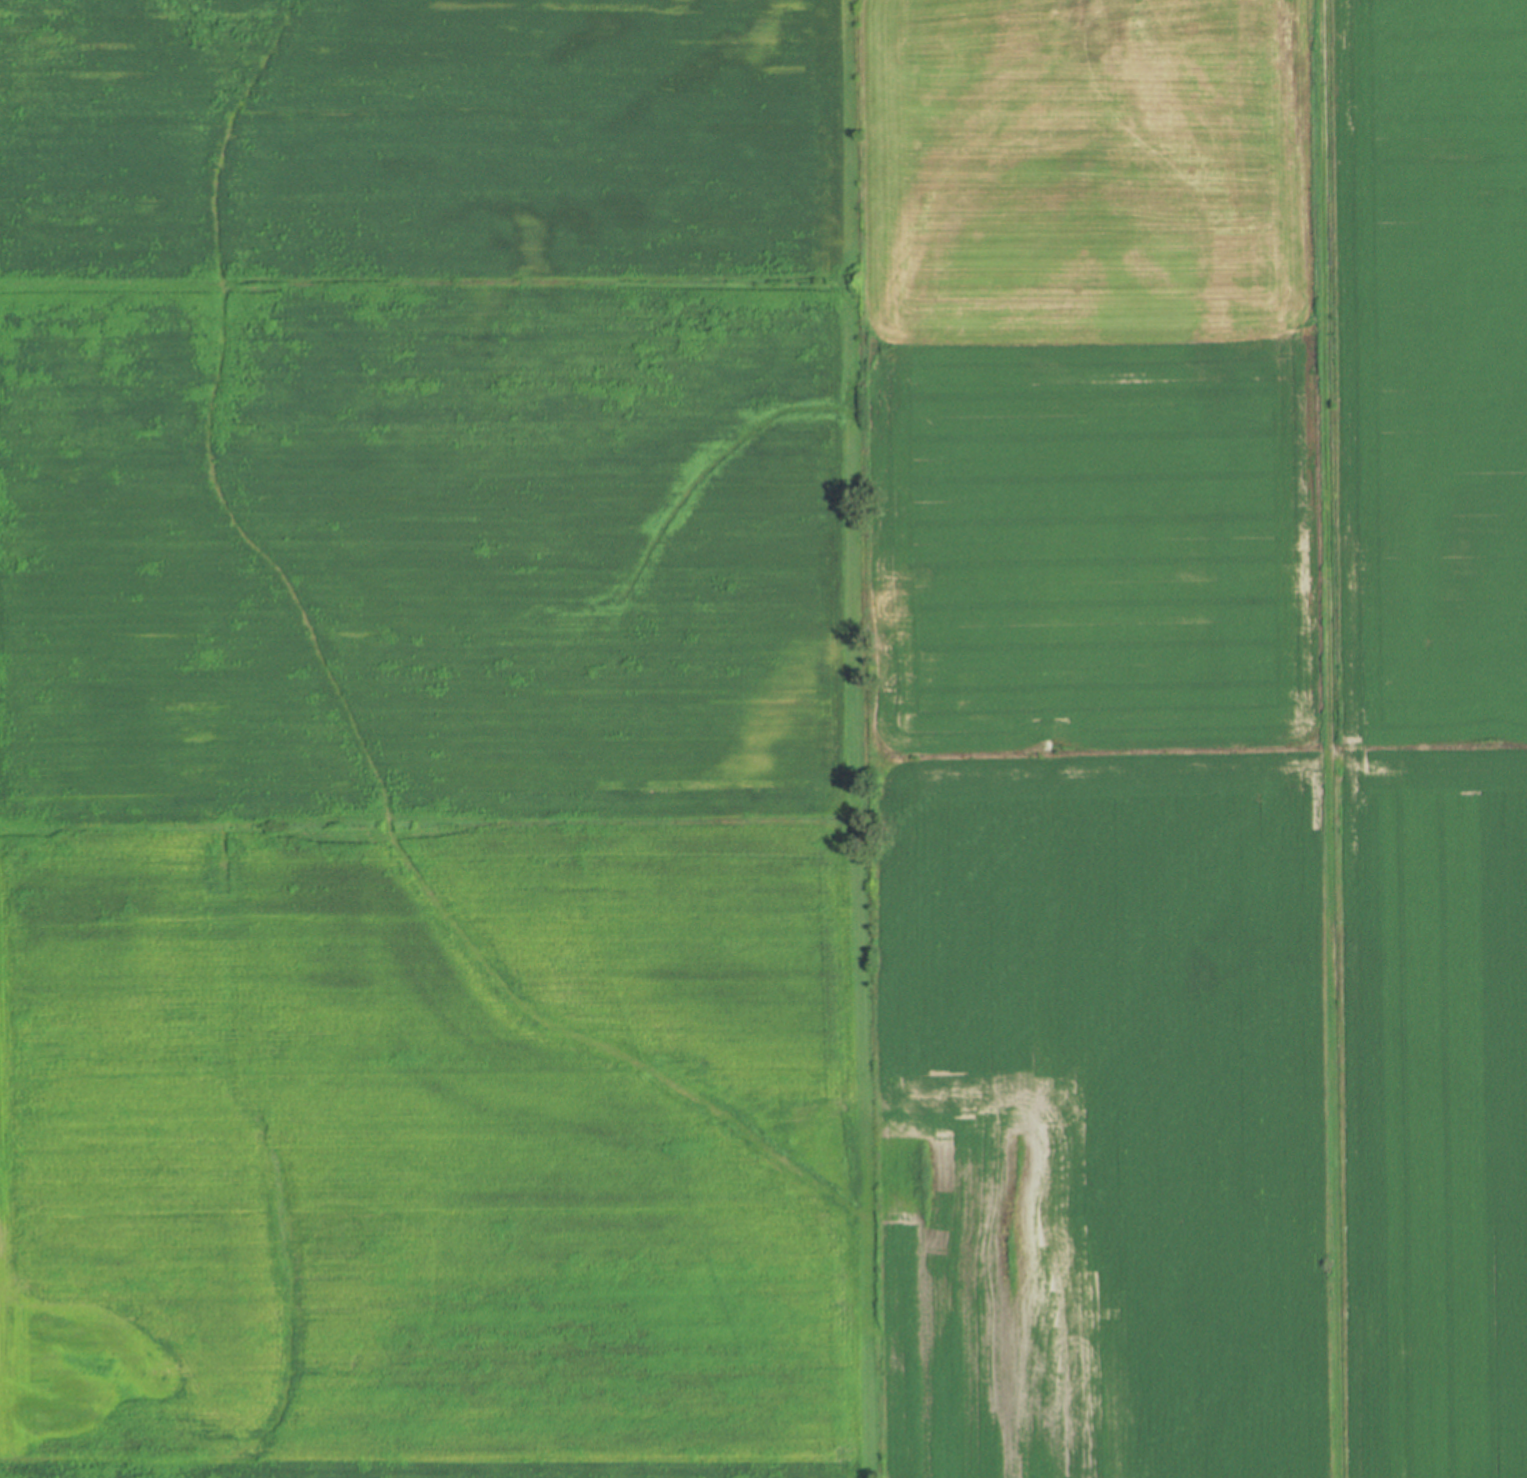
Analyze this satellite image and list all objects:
road: (1332, 739)

